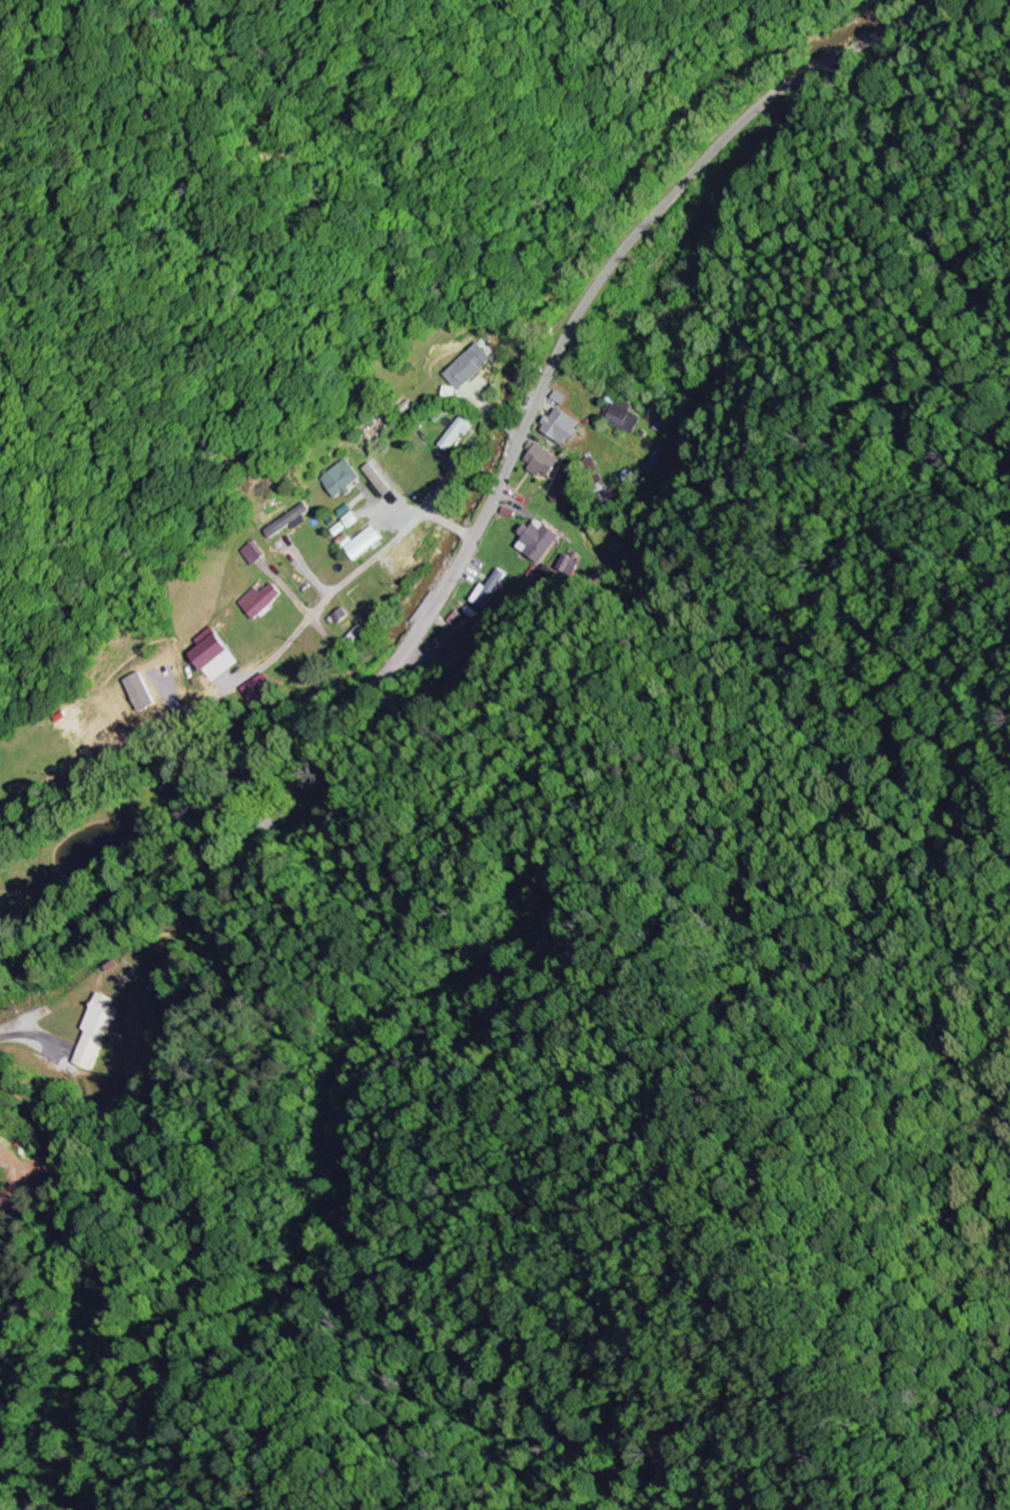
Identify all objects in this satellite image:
building: (462, 367)
building: (616, 416)
building: (554, 427)
building: (449, 433)
building: (680, 443)
building: (535, 461)
building: (333, 479)
building: (623, 479)
building: (370, 482)
road: (318, 485)
road: (486, 501)
building: (342, 517)
building: (280, 521)
building: (532, 542)
building: (359, 544)
building: (244, 555)
road: (364, 562)
building: (563, 566)
building: (479, 591)
building: (254, 601)
building: (444, 639)
building: (203, 650)
building: (254, 689)
building: (134, 692)
road: (498, 853)
road: (24, 1026)
building: (93, 1032)

